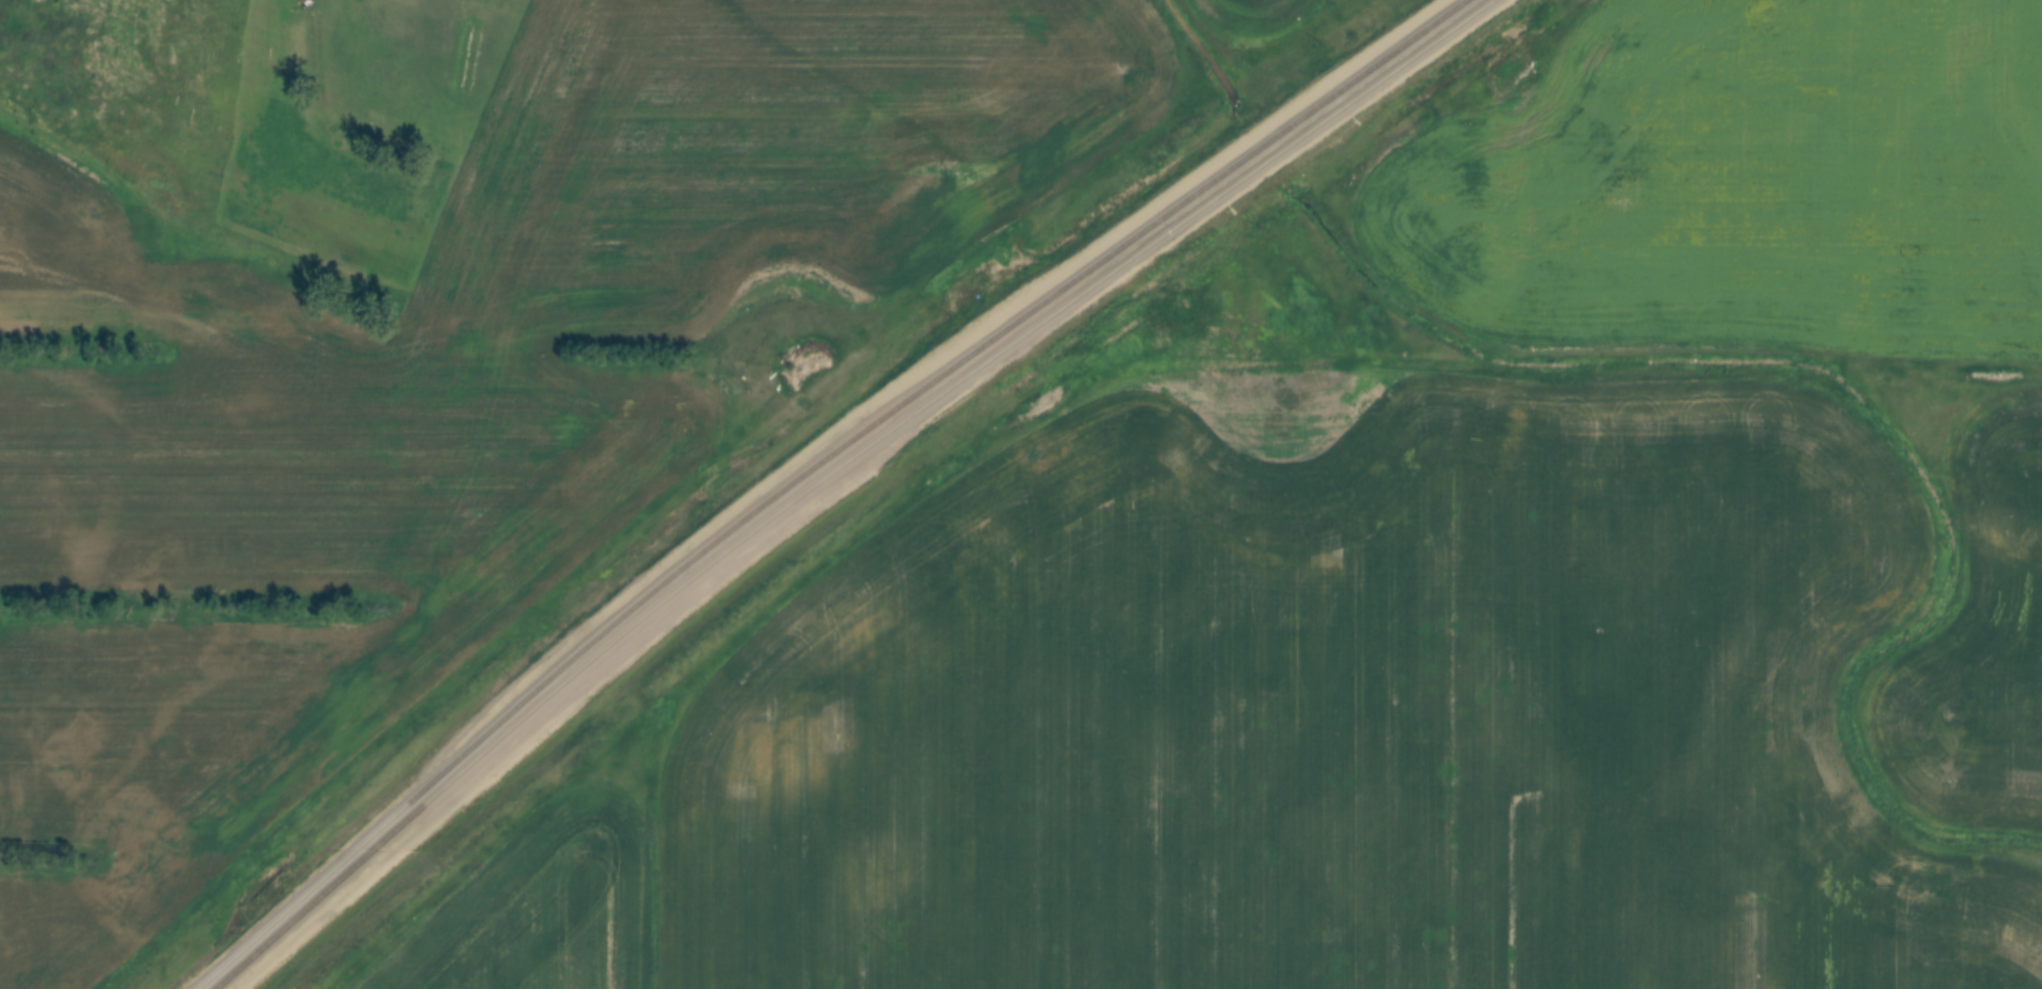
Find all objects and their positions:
railway: (817, 468)
railway: (843, 470)

